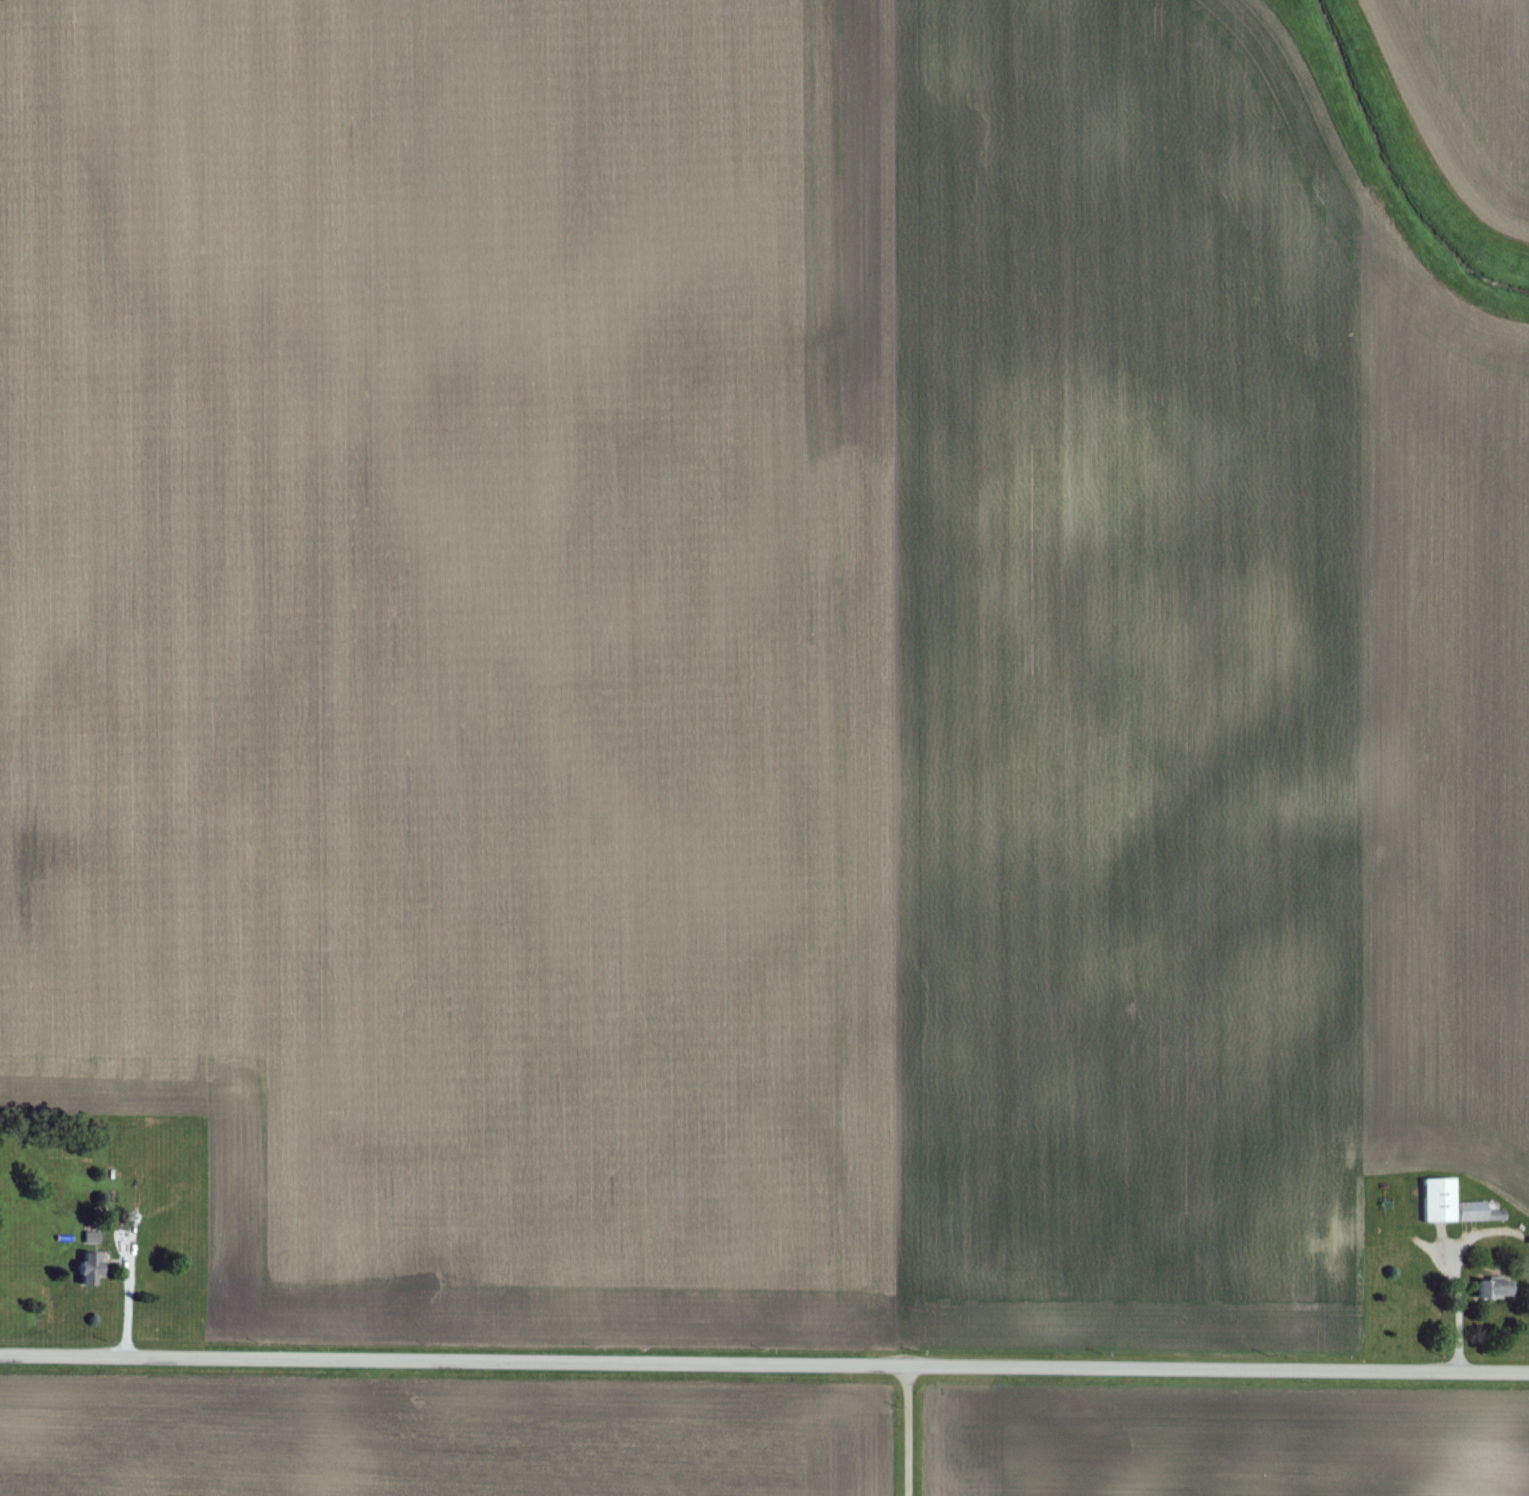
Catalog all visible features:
building: (1437, 1200)
road: (1457, 1284)
road: (764, 1364)
road: (909, 1430)

